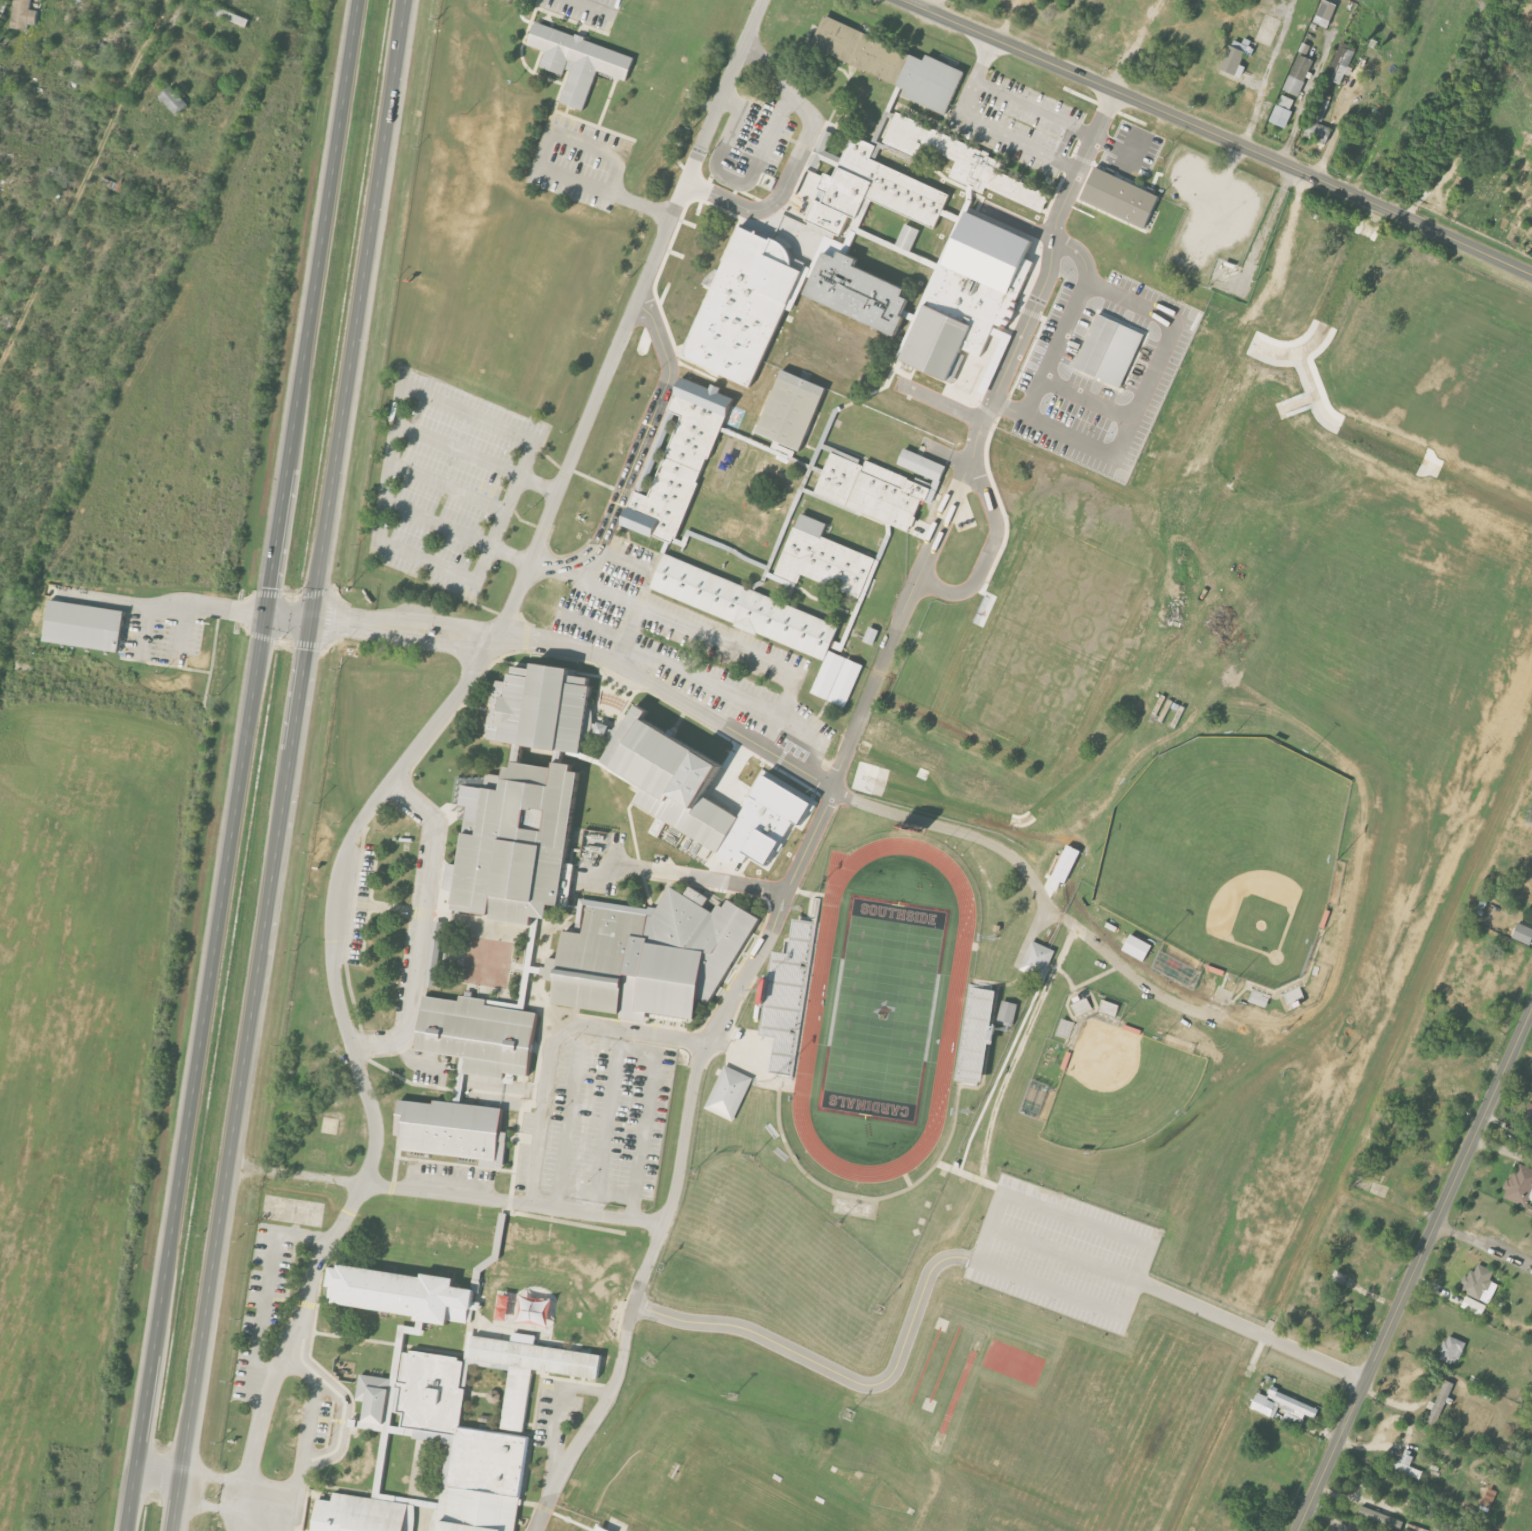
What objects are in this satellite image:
road: (593, 4)
road: (931, 4)
building: (1327, 9)
building: (23, 14)
road: (752, 21)
building: (1235, 58)
building: (580, 61)
building: (893, 63)
building: (1341, 63)
road: (766, 68)
building: (1299, 74)
road: (106, 76)
road: (1307, 97)
building: (174, 100)
road: (1032, 109)
building: (1283, 110)
road: (978, 124)
road: (1133, 133)
road: (1219, 135)
building: (1349, 143)
building: (950, 154)
road: (538, 162)
road: (733, 181)
building: (864, 187)
building: (1121, 197)
road: (780, 199)
road: (66, 216)
building: (856, 228)
building: (909, 236)
building: (869, 300)
road: (1055, 347)
building: (1110, 350)
road: (1150, 382)
building: (792, 409)
road: (648, 420)
road: (394, 423)
road: (976, 440)
road: (457, 448)
building: (681, 463)
road: (538, 483)
road: (447, 486)
building: (881, 487)
road: (437, 524)
road: (994, 541)
building: (825, 558)
road: (622, 559)
road: (570, 573)
road: (165, 603)
traffic signals: (266, 614)
road: (288, 617)
road: (408, 618)
traffic signals: (311, 620)
road: (318, 621)
building: (763, 621)
building: (85, 626)
road: (628, 633)
building: (872, 635)
road: (403, 639)
road: (727, 642)
road: (670, 666)
road: (670, 695)
road: (811, 743)
road: (242, 765)
road: (289, 765)
road: (391, 778)
building: (704, 794)
building: (524, 800)
building: (1067, 864)
road: (697, 879)
road: (1033, 882)
road: (418, 925)
building: (1524, 934)
building: (1138, 947)
building: (436, 954)
building: (650, 956)
building: (1038, 960)
building: (1168, 964)
building: (788, 999)
building: (1260, 999)
building: (1081, 1006)
building: (1109, 1008)
track: (813, 1010)
park: (882, 1010)
building: (1008, 1012)
building: (1065, 1029)
building: (977, 1036)
road: (618, 1045)
building: (730, 1093)
road: (541, 1109)
building: (1530, 1121)
building: (454, 1130)
road: (678, 1160)
road: (380, 1184)
building: (1520, 1186)
road: (975, 1261)
road: (1415, 1271)
building: (1480, 1284)
building: (404, 1293)
building: (1475, 1306)
building: (536, 1311)
road: (294, 1338)
building: (1454, 1348)
building: (1442, 1398)
building: (1265, 1405)
building: (1294, 1408)
road: (310, 1421)
road: (337, 1432)
building: (459, 1432)
building: (1406, 1465)
road: (158, 1475)
road: (243, 1495)
building: (365, 1514)
building: (1381, 1518)
building: (1412, 1528)
building: (603, 1529)

